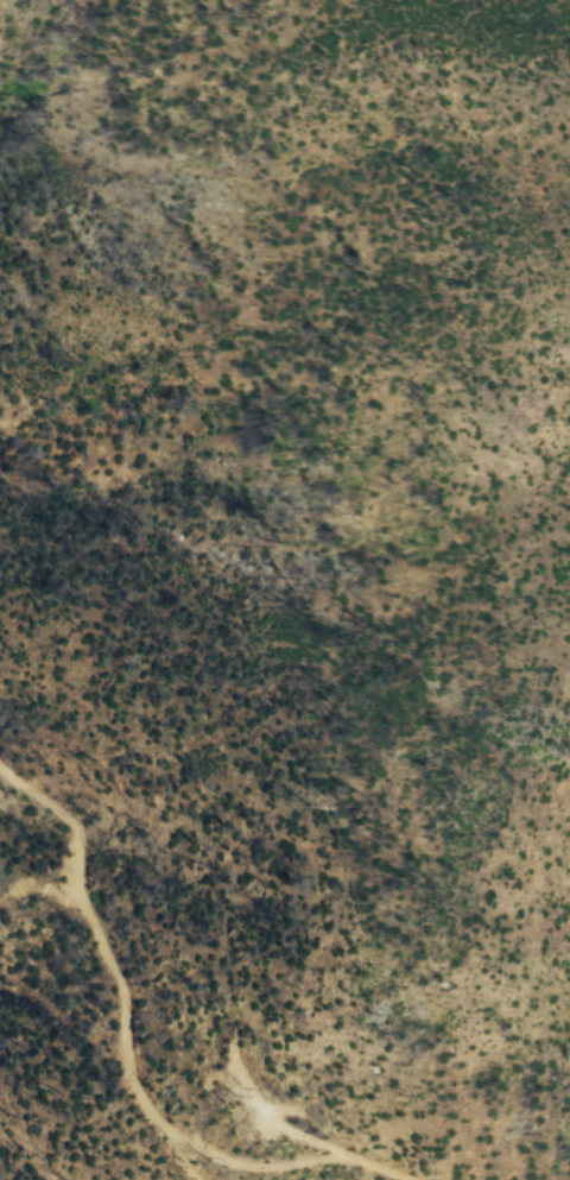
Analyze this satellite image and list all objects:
power tower: (209, 1098)

